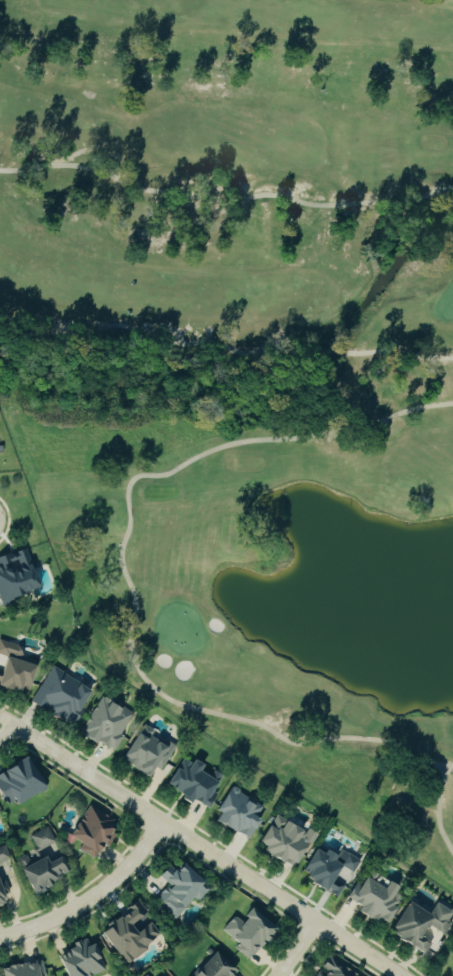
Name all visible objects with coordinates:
park: (246, 374)
road: (0, 522)
building: (15, 575)
building: (12, 668)
building: (57, 696)
building: (105, 724)
building: (145, 751)
building: (192, 782)
building: (16, 783)
building: (236, 813)
building: (91, 831)
building: (40, 837)
building: (282, 840)
road: (201, 846)
building: (326, 868)
building: (39, 869)
building: (178, 889)
road: (94, 898)
building: (371, 898)
building: (417, 924)
building: (128, 931)
building: (246, 932)
road: (298, 949)
building: (78, 959)
building: (212, 966)
building: (38, 967)
building: (332, 968)
building: (19, 969)
building: (144, 975)

